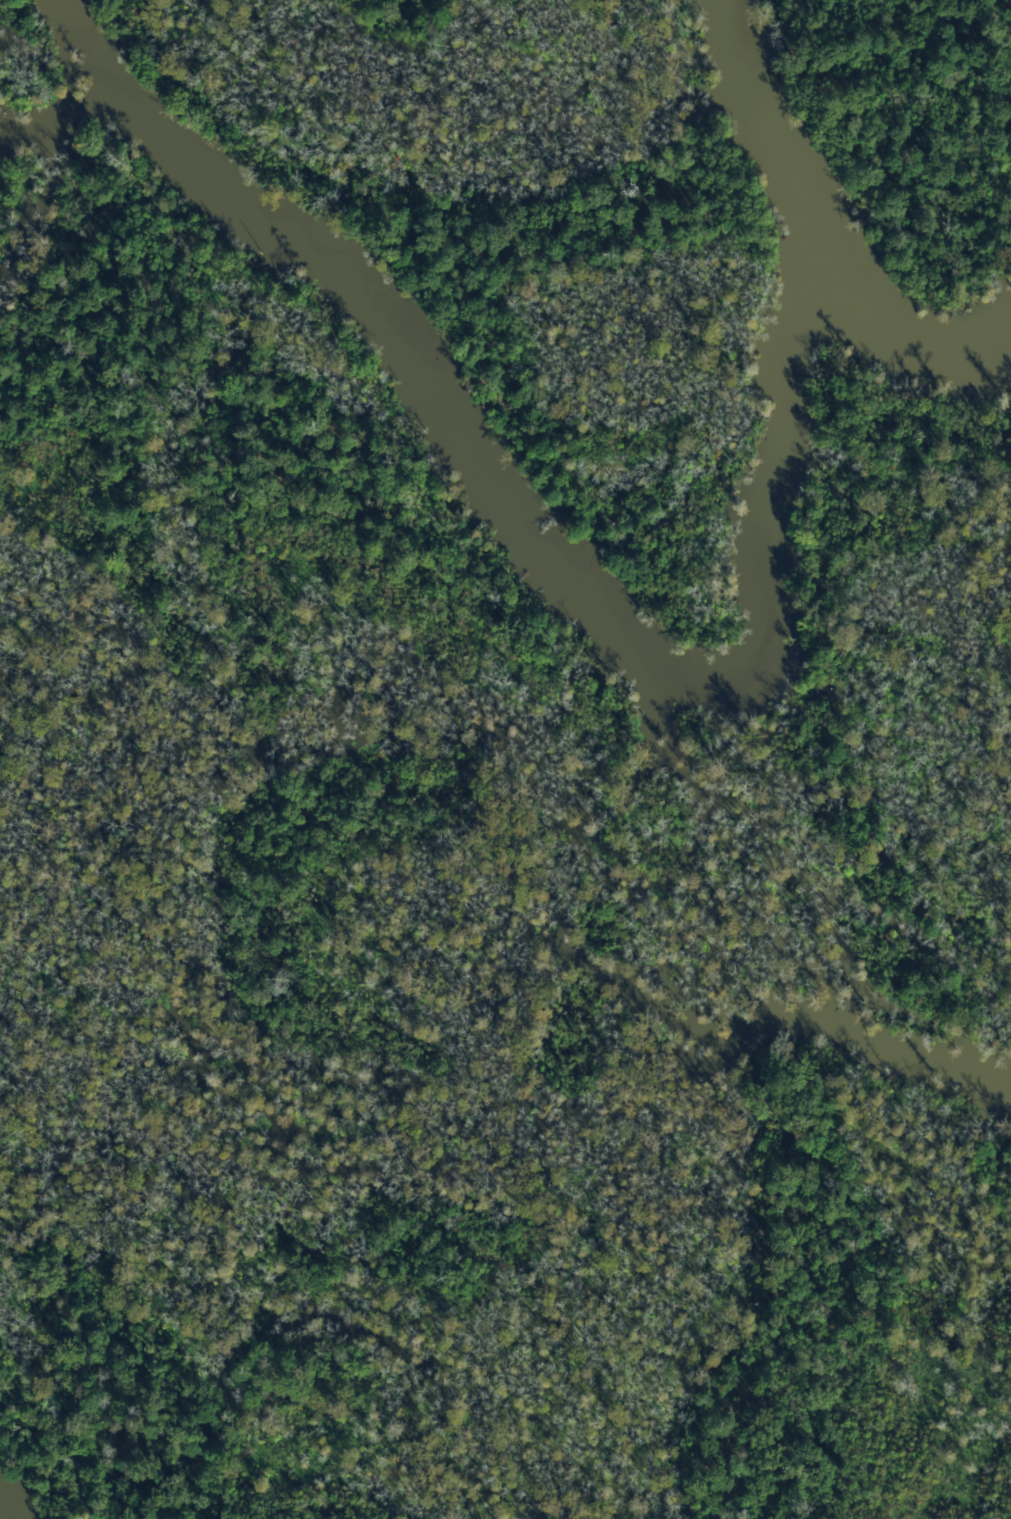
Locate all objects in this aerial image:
river: (6, 1508)

